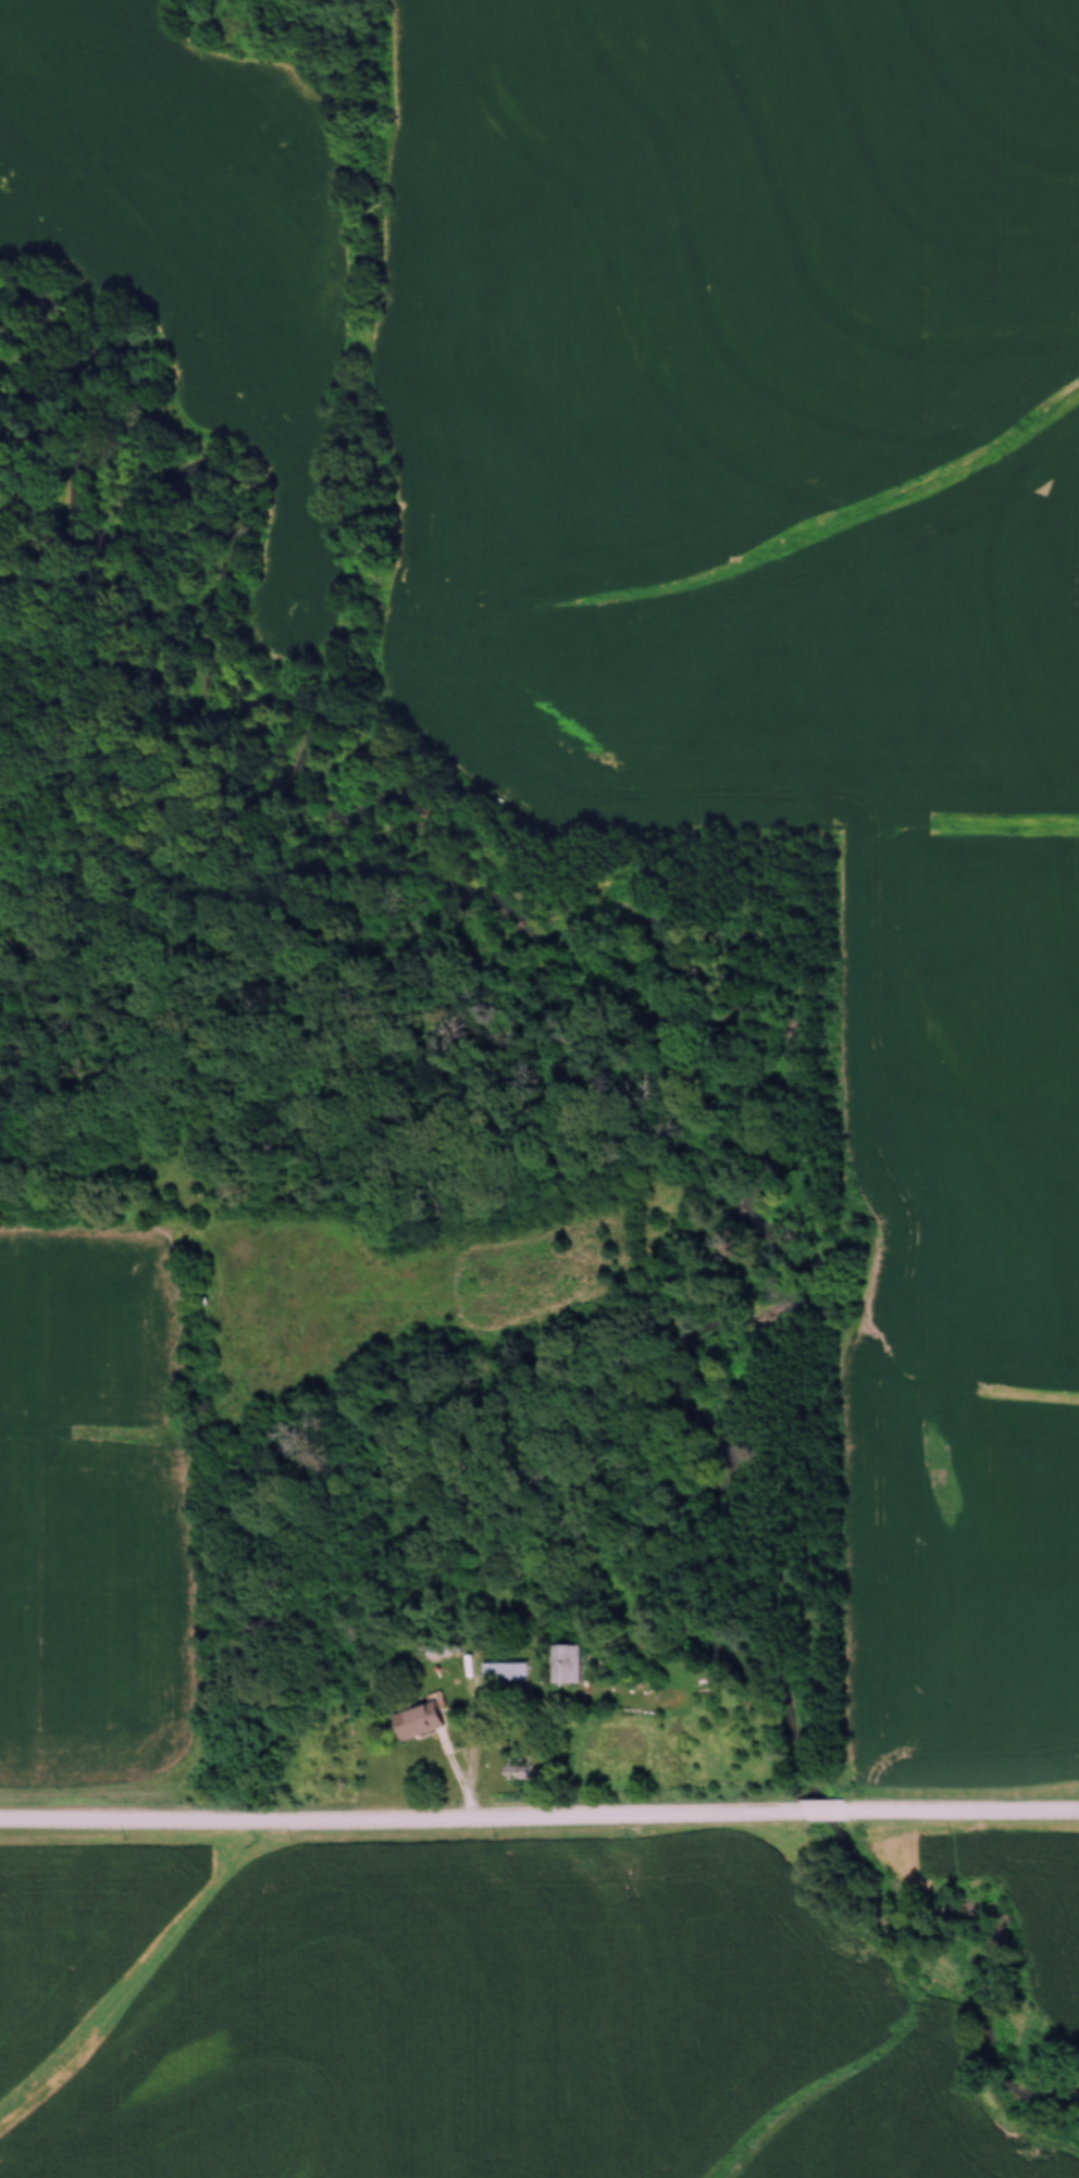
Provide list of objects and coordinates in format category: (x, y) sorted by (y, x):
river: (653, 1000)
building: (566, 1664)
building: (504, 1672)
building: (418, 1720)
road: (828, 1810)
road: (966, 1810)
road: (401, 1819)

